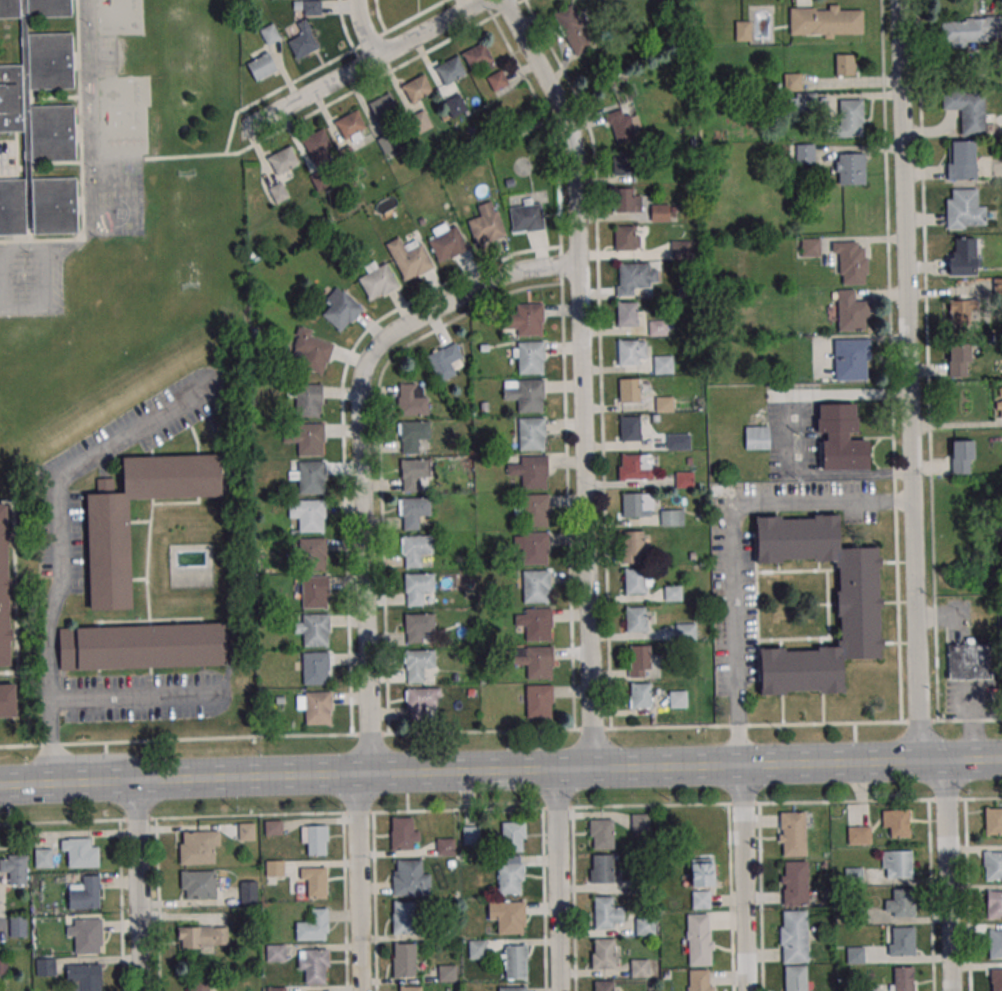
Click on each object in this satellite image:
building: (312, 7)
building: (824, 21)
road: (363, 29)
building: (573, 30)
building: (742, 30)
building: (970, 30)
building: (270, 34)
road: (376, 36)
building: (302, 44)
building: (476, 55)
road: (365, 63)
building: (844, 64)
building: (261, 66)
building: (450, 69)
building: (792, 81)
building: (416, 88)
road: (275, 89)
road: (338, 98)
building: (800, 101)
building: (454, 105)
building: (383, 106)
building: (967, 110)
building: (850, 118)
building: (421, 121)
building: (38, 123)
building: (350, 124)
building: (620, 125)
building: (315, 142)
building: (801, 153)
parking lot: (8, 156)
building: (961, 159)
road: (4, 161)
building: (282, 161)
building: (623, 163)
building: (850, 168)
building: (623, 200)
building: (964, 209)
building: (659, 212)
building: (526, 216)
building: (486, 223)
building: (624, 237)
building: (447, 242)
road: (45, 246)
building: (810, 247)
building: (681, 249)
building: (963, 256)
building: (410, 258)
building: (851, 262)
parking lot: (30, 274)
building: (636, 277)
building: (377, 280)
building: (998, 288)
road: (1, 303)
building: (341, 308)
building: (964, 310)
building: (850, 311)
building: (627, 313)
building: (525, 319)
building: (657, 327)
building: (310, 351)
building: (627, 352)
building: (530, 357)
building: (959, 359)
building: (851, 360)
building: (446, 361)
building: (662, 364)
road: (907, 381)
building: (628, 390)
building: (530, 395)
building: (413, 399)
building: (308, 400)
building: (663, 404)
building: (1000, 408)
road: (954, 424)
building: (630, 428)
building: (531, 434)
building: (413, 435)
building: (756, 437)
building: (305, 438)
building: (841, 438)
building: (678, 441)
building: (961, 456)
building: (630, 466)
building: (533, 471)
building: (415, 475)
building: (310, 477)
building: (684, 480)
road: (585, 491)
building: (632, 505)
building: (535, 510)
building: (413, 512)
building: (309, 514)
building: (671, 517)
building: (633, 543)
building: (534, 548)
road: (731, 550)
building: (416, 551)
road: (60, 553)
building: (313, 553)
building: (109, 554)
road: (361, 556)
building: (634, 580)
building: (535, 586)
building: (4, 588)
building: (418, 589)
building: (315, 591)
building: (673, 593)
building: (858, 604)
road: (947, 615)
building: (635, 619)
building: (538, 624)
building: (419, 627)
building: (315, 629)
building: (685, 631)
building: (142, 646)
building: (969, 660)
building: (642, 661)
building: (539, 663)
building: (418, 664)
building: (316, 668)
building: (640, 695)
road: (135, 696)
building: (677, 698)
building: (538, 700)
building: (7, 701)
building: (421, 701)
building: (315, 706)
road: (973, 722)
road: (500, 730)
road: (500, 769)
road: (500, 809)
building: (993, 821)
building: (640, 822)
building: (896, 822)
building: (273, 827)
building: (247, 831)
building: (404, 834)
building: (601, 834)
building: (792, 834)
building: (858, 834)
building: (471, 835)
building: (513, 836)
building: (315, 839)
building: (446, 846)
building: (199, 847)
building: (80, 852)
building: (43, 858)
building: (896, 864)
building: (993, 865)
building: (275, 867)
building: (14, 868)
building: (605, 870)
building: (702, 872)
building: (510, 875)
road: (948, 875)
building: (853, 876)
road: (744, 877)
building: (410, 878)
building: (315, 881)
building: (794, 882)
building: (198, 884)
road: (138, 885)
building: (249, 891)
building: (85, 893)
road: (930, 895)
road: (966, 895)
road: (730, 897)
road: (760, 897)
building: (700, 900)
road: (374, 901)
road: (344, 902)
building: (900, 904)
building: (994, 905)
building: (607, 913)
building: (508, 915)
building: (403, 917)
building: (313, 925)
building: (644, 925)
building: (17, 926)
building: (86, 935)
building: (203, 936)
building: (794, 936)
building: (698, 939)
building: (899, 942)
building: (995, 943)
building: (478, 949)
building: (276, 953)
building: (605, 953)
building: (854, 955)
building: (405, 959)
building: (516, 961)
building: (45, 966)
building: (315, 966)
building: (639, 967)
building: (447, 972)
building: (85, 976)
building: (795, 978)
building: (902, 978)
building: (996, 979)
building: (698, 980)
building: (199, 984)
building: (604, 986)
building: (865, 987)
building: (410, 988)
building: (512, 988)
building: (276, 989)

